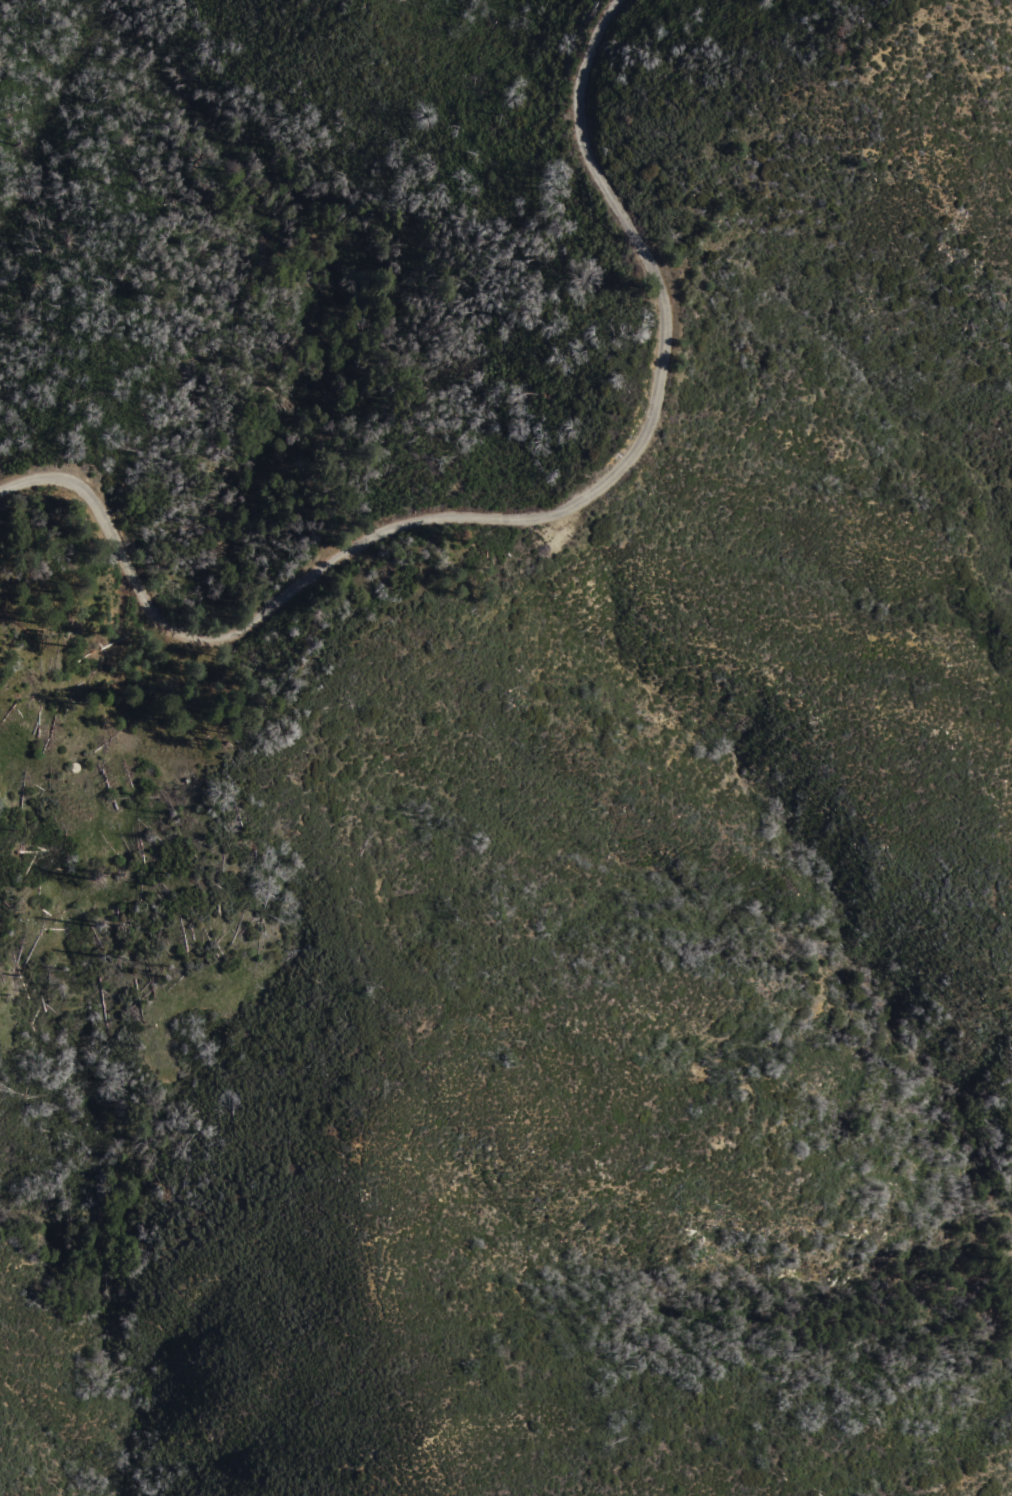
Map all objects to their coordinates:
road: (510, 518)
road: (114, 656)
building: (75, 769)
storage tank: (75, 769)

